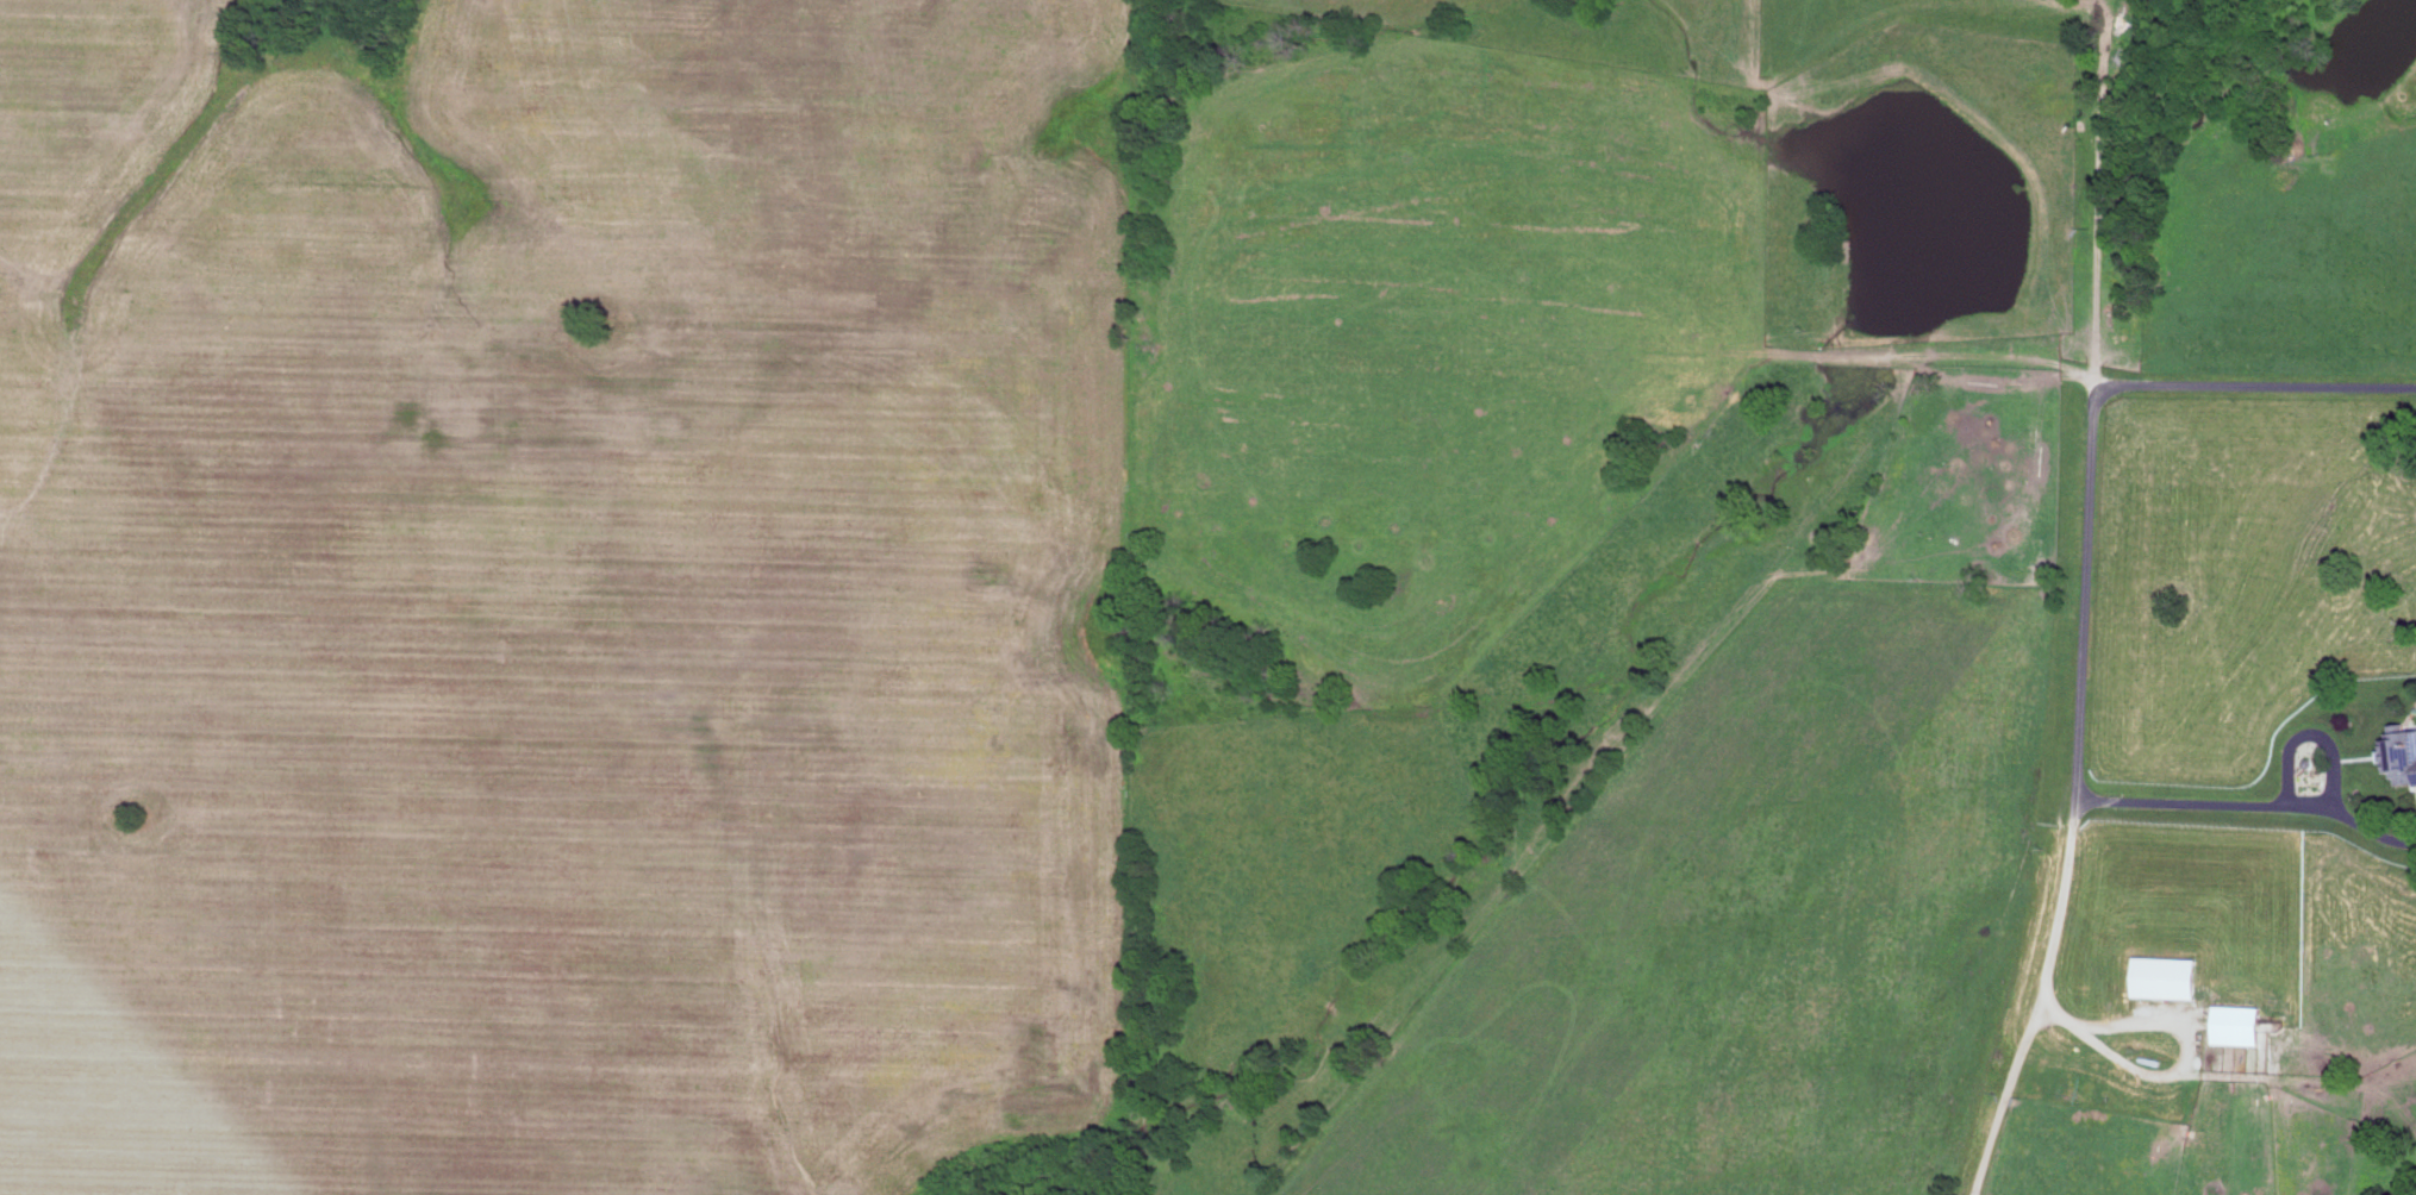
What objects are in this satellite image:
road: (2086, 565)
railway: (2084, 605)
building: (2402, 751)
building: (2167, 976)
building: (2239, 1022)

